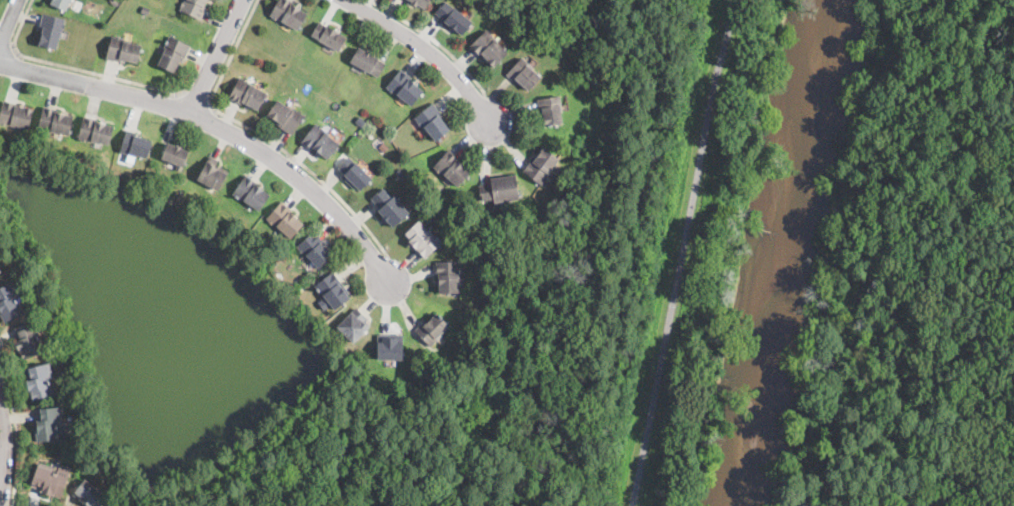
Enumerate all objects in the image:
building: (420, 3)
building: (61, 4)
building: (194, 7)
building: (145, 9)
building: (288, 13)
building: (454, 17)
road: (8, 25)
building: (51, 30)
building: (328, 36)
road: (434, 41)
building: (488, 47)
road: (6, 48)
building: (123, 49)
road: (423, 53)
building: (173, 54)
road: (219, 55)
building: (367, 61)
road: (75, 68)
building: (524, 74)
building: (404, 87)
building: (247, 93)
road: (197, 98)
building: (550, 110)
building: (15, 114)
building: (285, 116)
building: (54, 121)
building: (431, 121)
road: (220, 126)
building: (169, 129)
building: (95, 130)
road: (263, 136)
building: (320, 141)
building: (135, 144)
building: (175, 156)
building: (542, 165)
building: (451, 167)
building: (212, 174)
building: (354, 174)
building: (501, 189)
building: (251, 192)
building: (389, 206)
park: (627, 218)
building: (284, 221)
building: (422, 238)
building: (315, 249)
road: (681, 253)
river: (790, 253)
building: (0, 268)
building: (0, 270)
building: (447, 277)
building: (332, 290)
building: (8, 303)
building: (353, 325)
building: (431, 329)
building: (27, 340)
building: (390, 347)
building: (39, 380)
building: (47, 424)
road: (16, 431)
building: (48, 480)
building: (88, 495)

